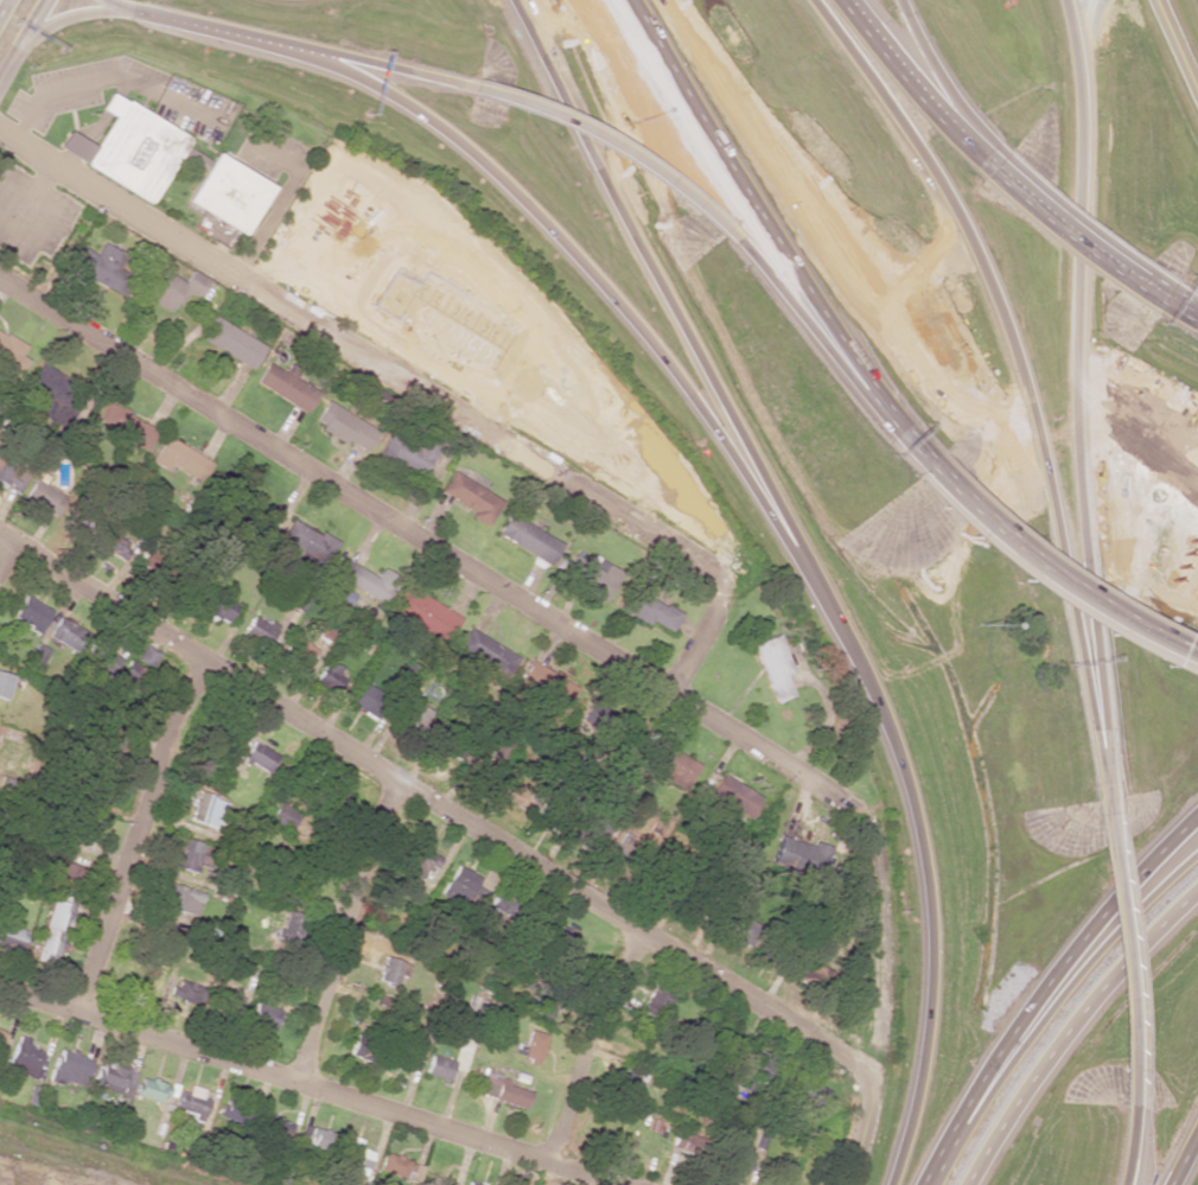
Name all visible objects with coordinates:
road: (4, 7)
road: (74, 15)
road: (20, 36)
road: (1175, 46)
road: (393, 71)
road: (942, 83)
road: (912, 84)
road: (606, 142)
building: (130, 149)
building: (224, 193)
road: (520, 193)
road: (751, 204)
road: (1082, 222)
road: (1068, 237)
building: (101, 265)
road: (662, 278)
building: (172, 288)
road: (1183, 292)
road: (1178, 310)
road: (797, 317)
building: (230, 343)
building: (11, 353)
road: (1012, 358)
road: (1077, 376)
building: (56, 386)
road: (414, 386)
building: (285, 387)
building: (125, 427)
building: (344, 427)
road: (900, 434)
building: (412, 450)
building: (178, 459)
building: (11, 477)
building: (654, 483)
building: (43, 497)
building: (470, 497)
building: (77, 522)
building: (528, 539)
building: (109, 541)
building: (307, 543)
road: (6, 552)
building: (147, 569)
building: (590, 575)
road: (1051, 575)
building: (365, 580)
building: (219, 607)
building: (648, 611)
building: (30, 613)
building: (426, 614)
building: (256, 632)
building: (63, 633)
road: (594, 642)
building: (488, 651)
building: (37, 654)
building: (297, 654)
building: (147, 655)
building: (104, 661)
building: (772, 665)
building: (329, 676)
building: (135, 677)
building: (4, 684)
building: (544, 684)
building: (367, 701)
building: (416, 716)
building: (257, 756)
building: (668, 764)
road: (1100, 777)
building: (515, 795)
building: (732, 796)
building: (338, 798)
road: (438, 804)
building: (206, 810)
building: (282, 816)
building: (588, 826)
building: (83, 834)
road: (135, 834)
building: (190, 855)
building: (799, 856)
building: (419, 860)
road: (923, 862)
building: (64, 874)
building: (297, 879)
building: (461, 887)
building: (184, 899)
building: (291, 922)
building: (738, 925)
building: (53, 929)
road: (343, 929)
building: (11, 937)
road: (1123, 953)
building: (555, 969)
building: (390, 970)
road: (1044, 986)
building: (198, 995)
building: (656, 1000)
road: (1050, 1007)
building: (262, 1015)
road: (1071, 1028)
building: (1, 1038)
building: (361, 1046)
building: (531, 1046)
road: (592, 1046)
building: (24, 1058)
building: (754, 1066)
building: (438, 1068)
building: (69, 1069)
building: (114, 1078)
building: (630, 1079)
road: (305, 1083)
building: (151, 1089)
building: (502, 1091)
building: (805, 1094)
building: (192, 1104)
building: (278, 1129)
building: (319, 1139)
building: (687, 1143)
road: (1126, 1146)
road: (1181, 1155)
building: (355, 1158)
building: (737, 1160)
building: (399, 1166)
building: (472, 1183)

